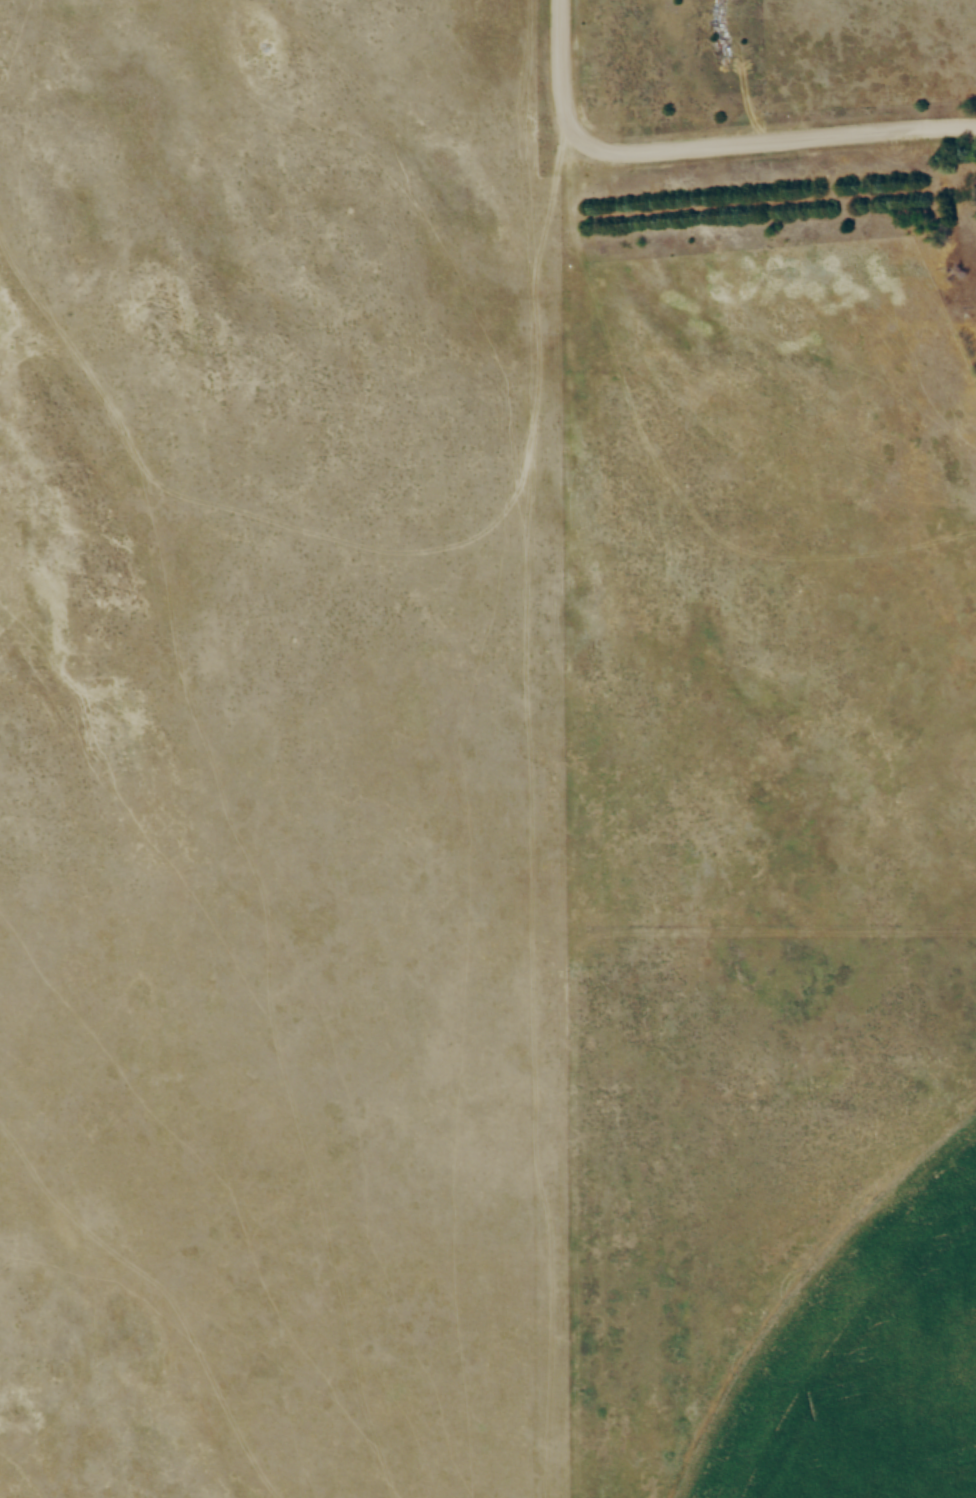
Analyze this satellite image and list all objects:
road: (559, 60)
road: (764, 142)
crop: (868, 1363)

